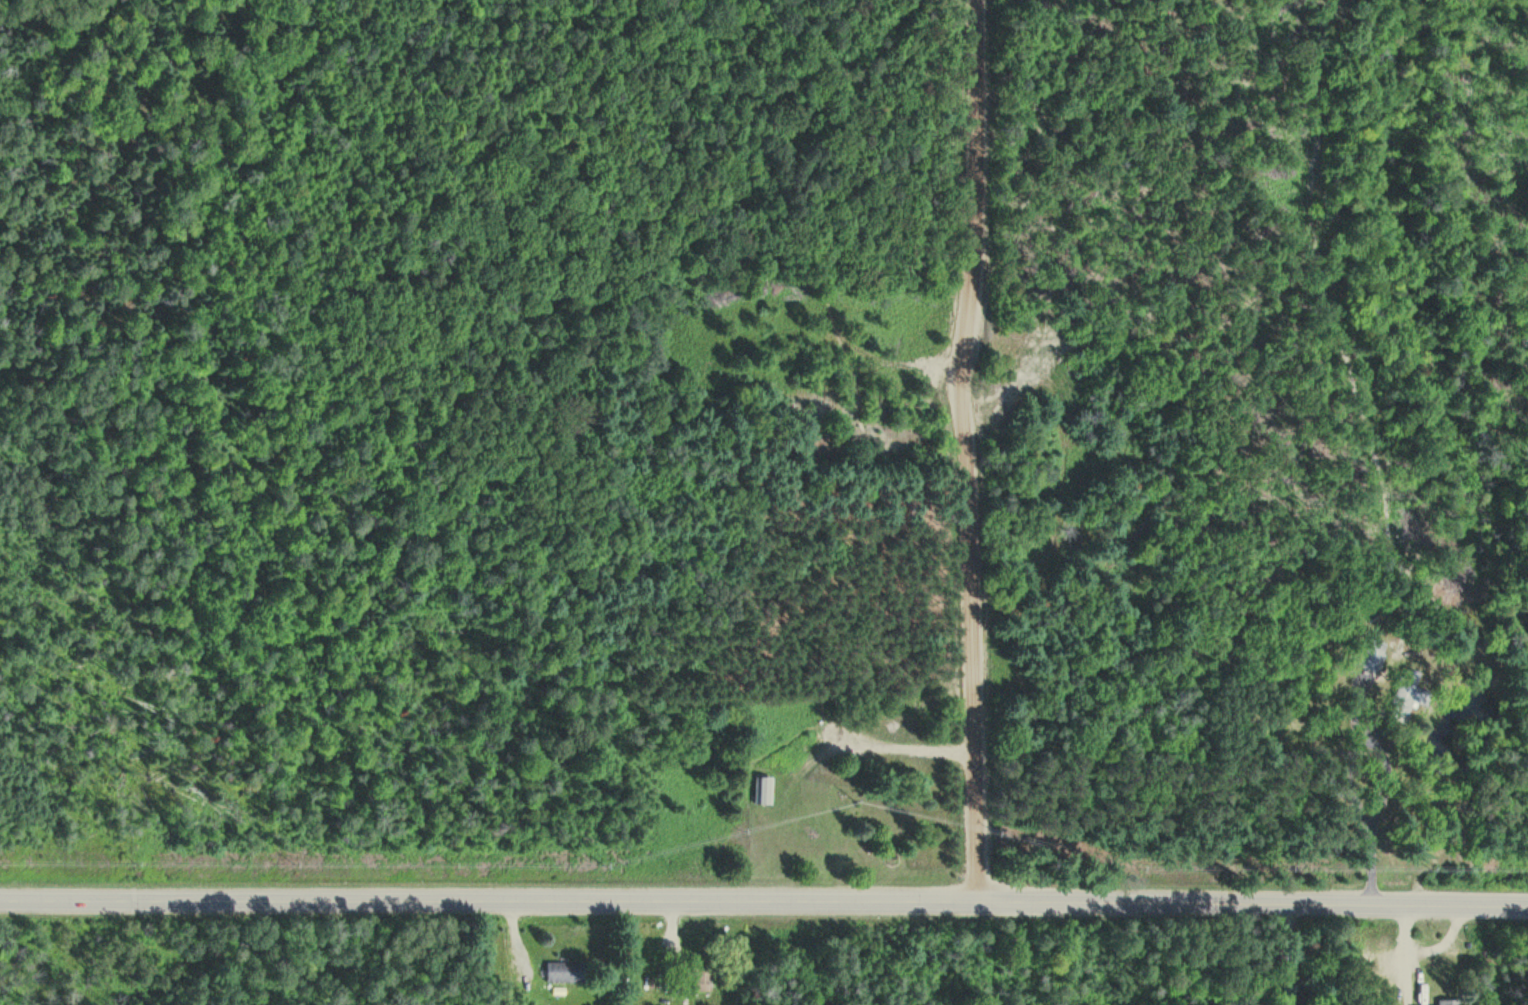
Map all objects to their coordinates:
road: (970, 450)
building: (1369, 656)
building: (1407, 696)
building: (765, 791)
road: (764, 901)
building: (567, 972)
building: (702, 977)
building: (1286, 1001)
building: (1450, 1002)

